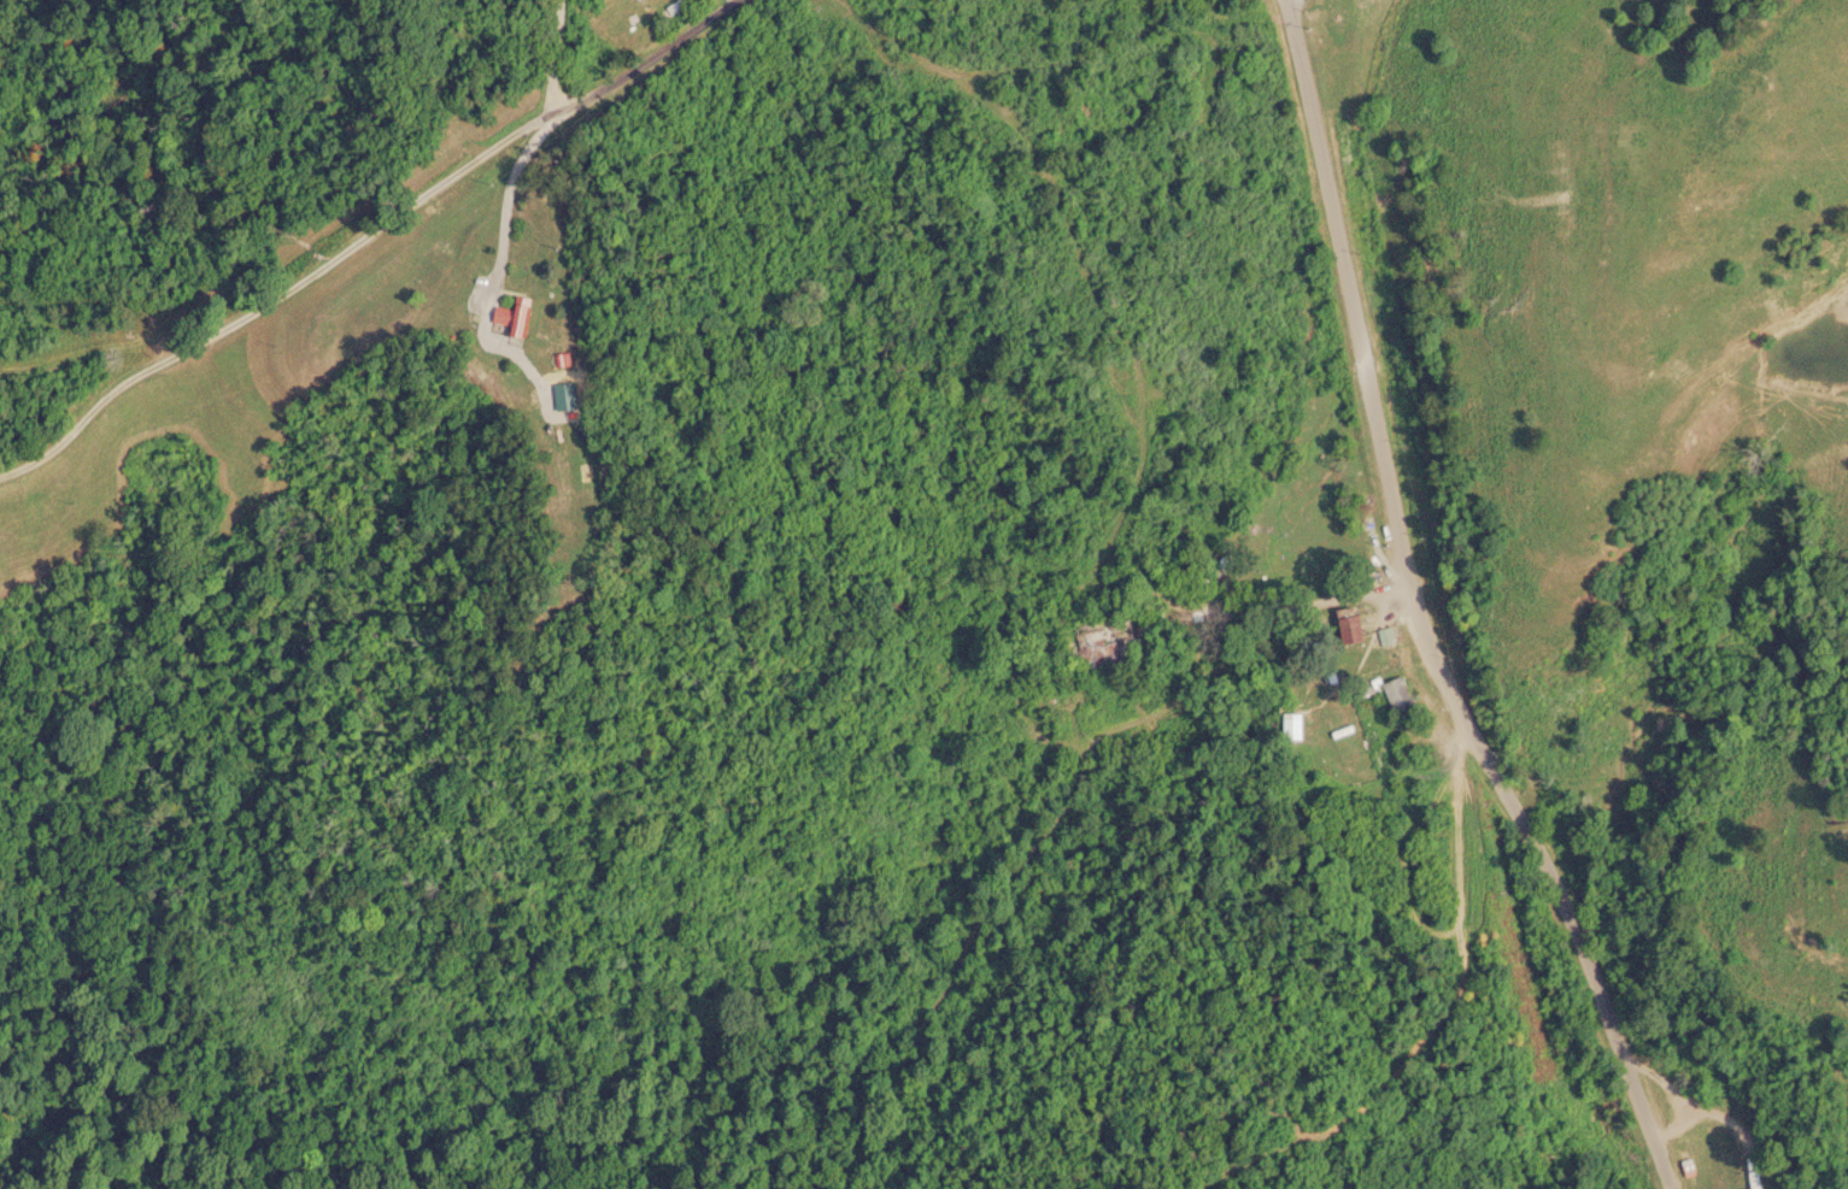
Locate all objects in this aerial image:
building: (663, 10)
road: (618, 76)
building: (510, 317)
road: (1424, 612)
building: (1342, 624)
building: (1383, 635)
building: (1097, 644)
building: (1392, 695)
building: (1290, 725)

